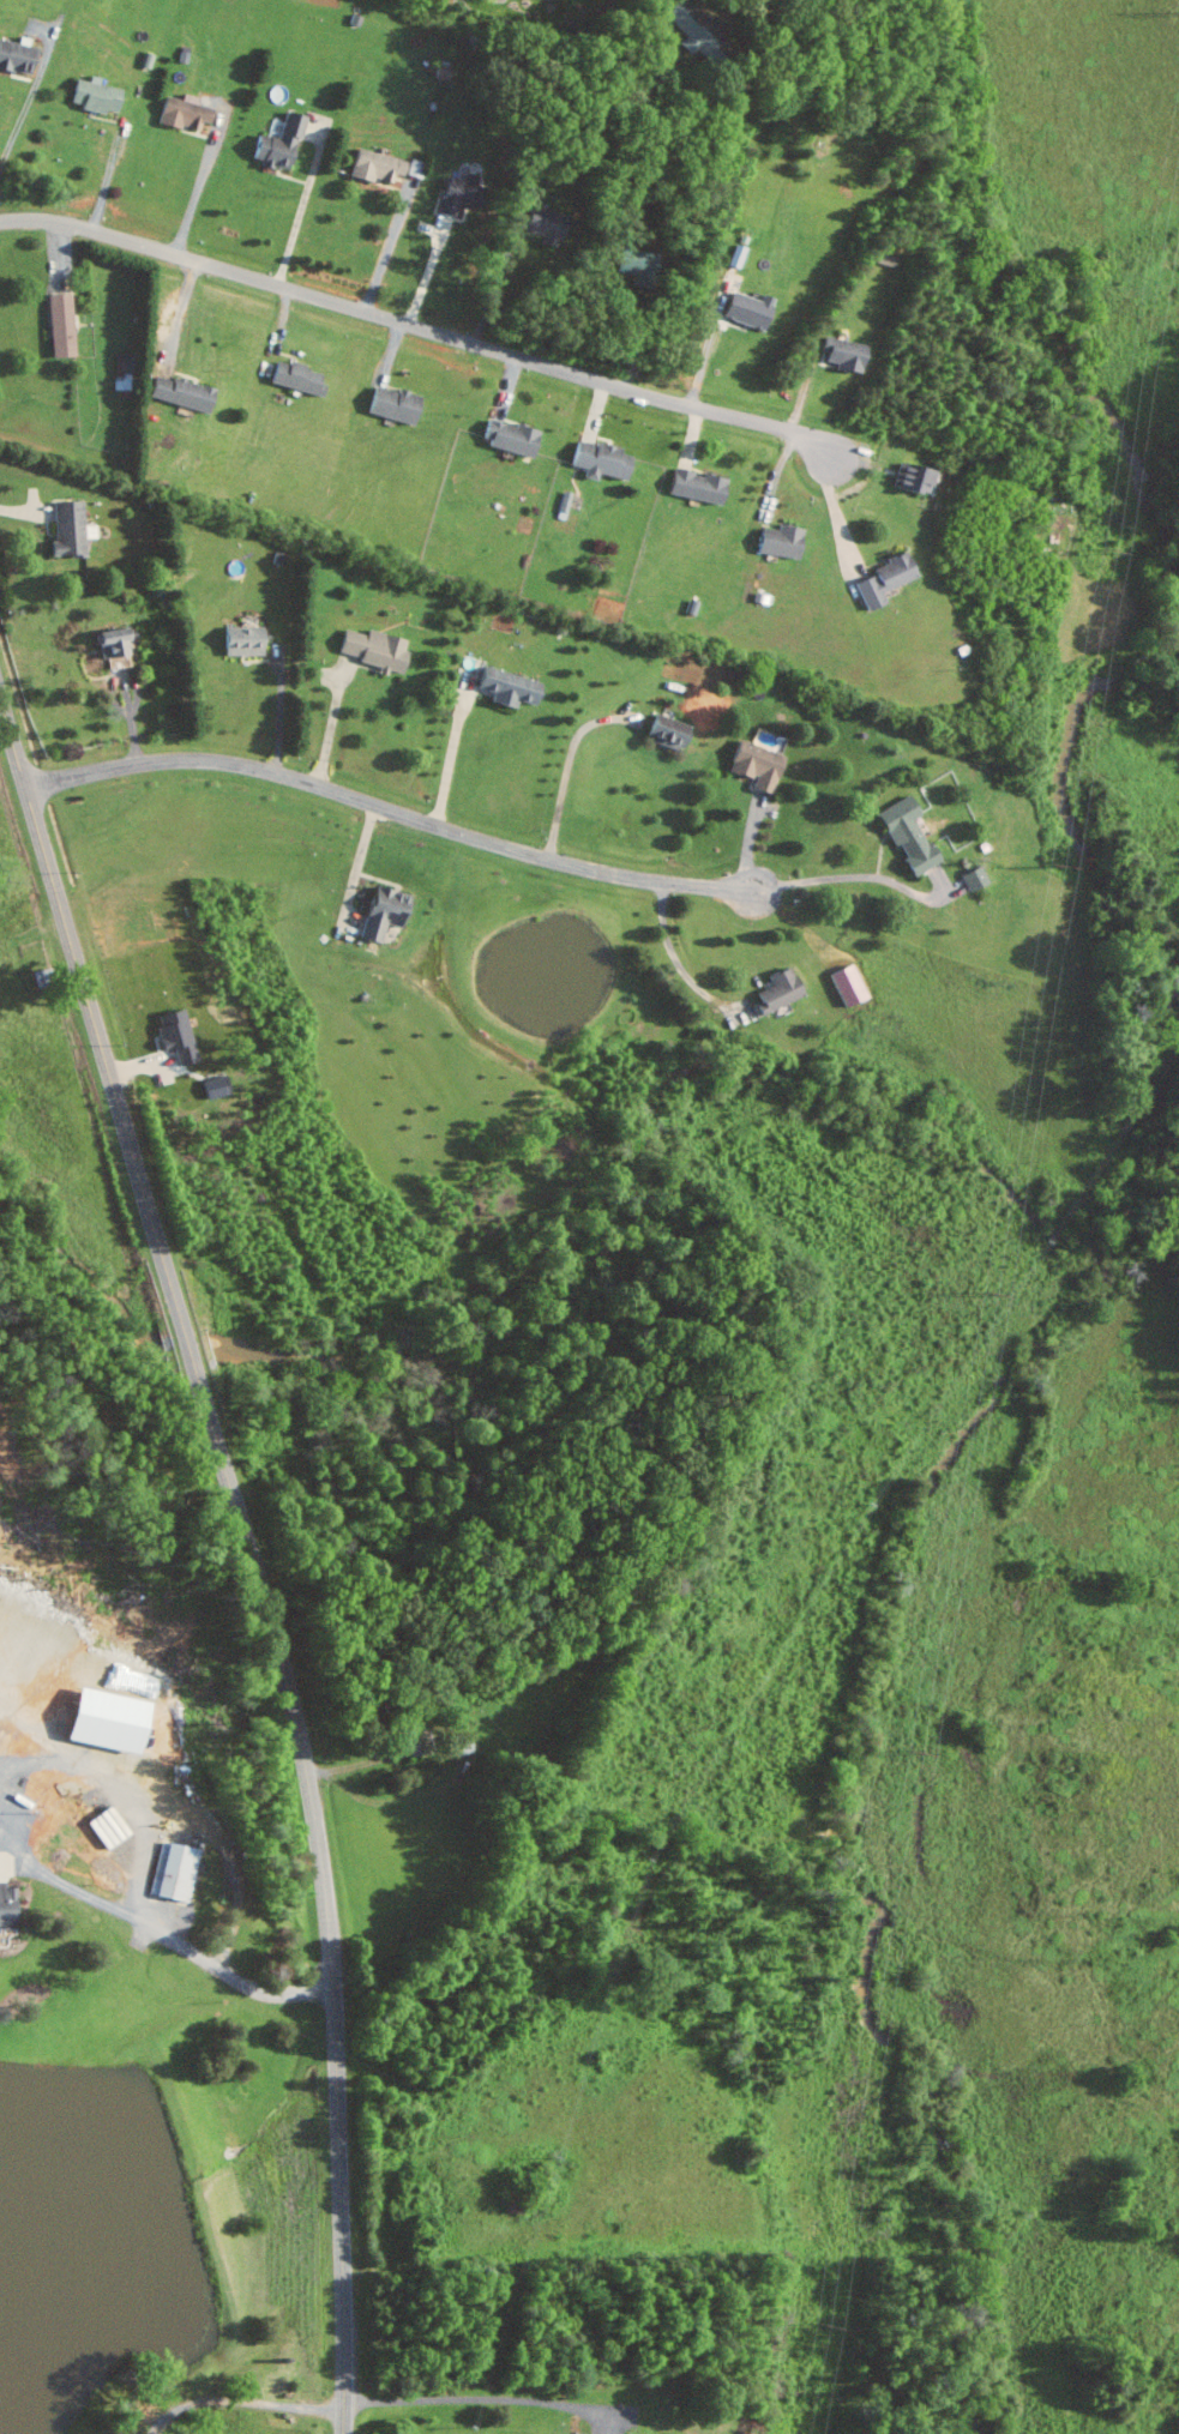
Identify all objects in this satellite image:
road: (654, 17)
building: (688, 31)
building: (14, 58)
building: (92, 95)
road: (26, 103)
building: (180, 112)
building: (276, 143)
building: (373, 165)
road: (109, 175)
road: (187, 195)
building: (453, 197)
road: (291, 213)
building: (540, 224)
road: (380, 245)
building: (628, 263)
road: (428, 270)
road: (497, 287)
building: (744, 309)
road: (180, 315)
building: (59, 325)
road: (417, 327)
building: (840, 354)
building: (295, 378)
building: (180, 392)
building: (390, 404)
building: (506, 438)
building: (597, 460)
building: (908, 478)
building: (693, 486)
road: (28, 512)
road: (834, 514)
building: (65, 528)
building: (777, 541)
power tower: (1111, 548)
building: (882, 579)
building: (108, 639)
building: (240, 639)
building: (371, 647)
building: (503, 686)
road: (282, 709)
road: (332, 721)
building: (664, 731)
road: (455, 742)
building: (753, 764)
road: (569, 765)
road: (389, 808)
building: (903, 833)
road: (357, 866)
power tower: (1059, 867)
building: (972, 876)
road: (848, 878)
building: (378, 911)
road: (678, 964)
building: (844, 984)
building: (775, 989)
building: (170, 1032)
building: (211, 1086)
power tower: (989, 1295)
road: (249, 1553)
building: (98, 1719)
building: (456, 1745)
power tower: (914, 1751)
road: (211, 1828)
building: (172, 1872)
building: (7, 1905)
road: (167, 1935)
power tower: (824, 2325)
road: (483, 2399)

